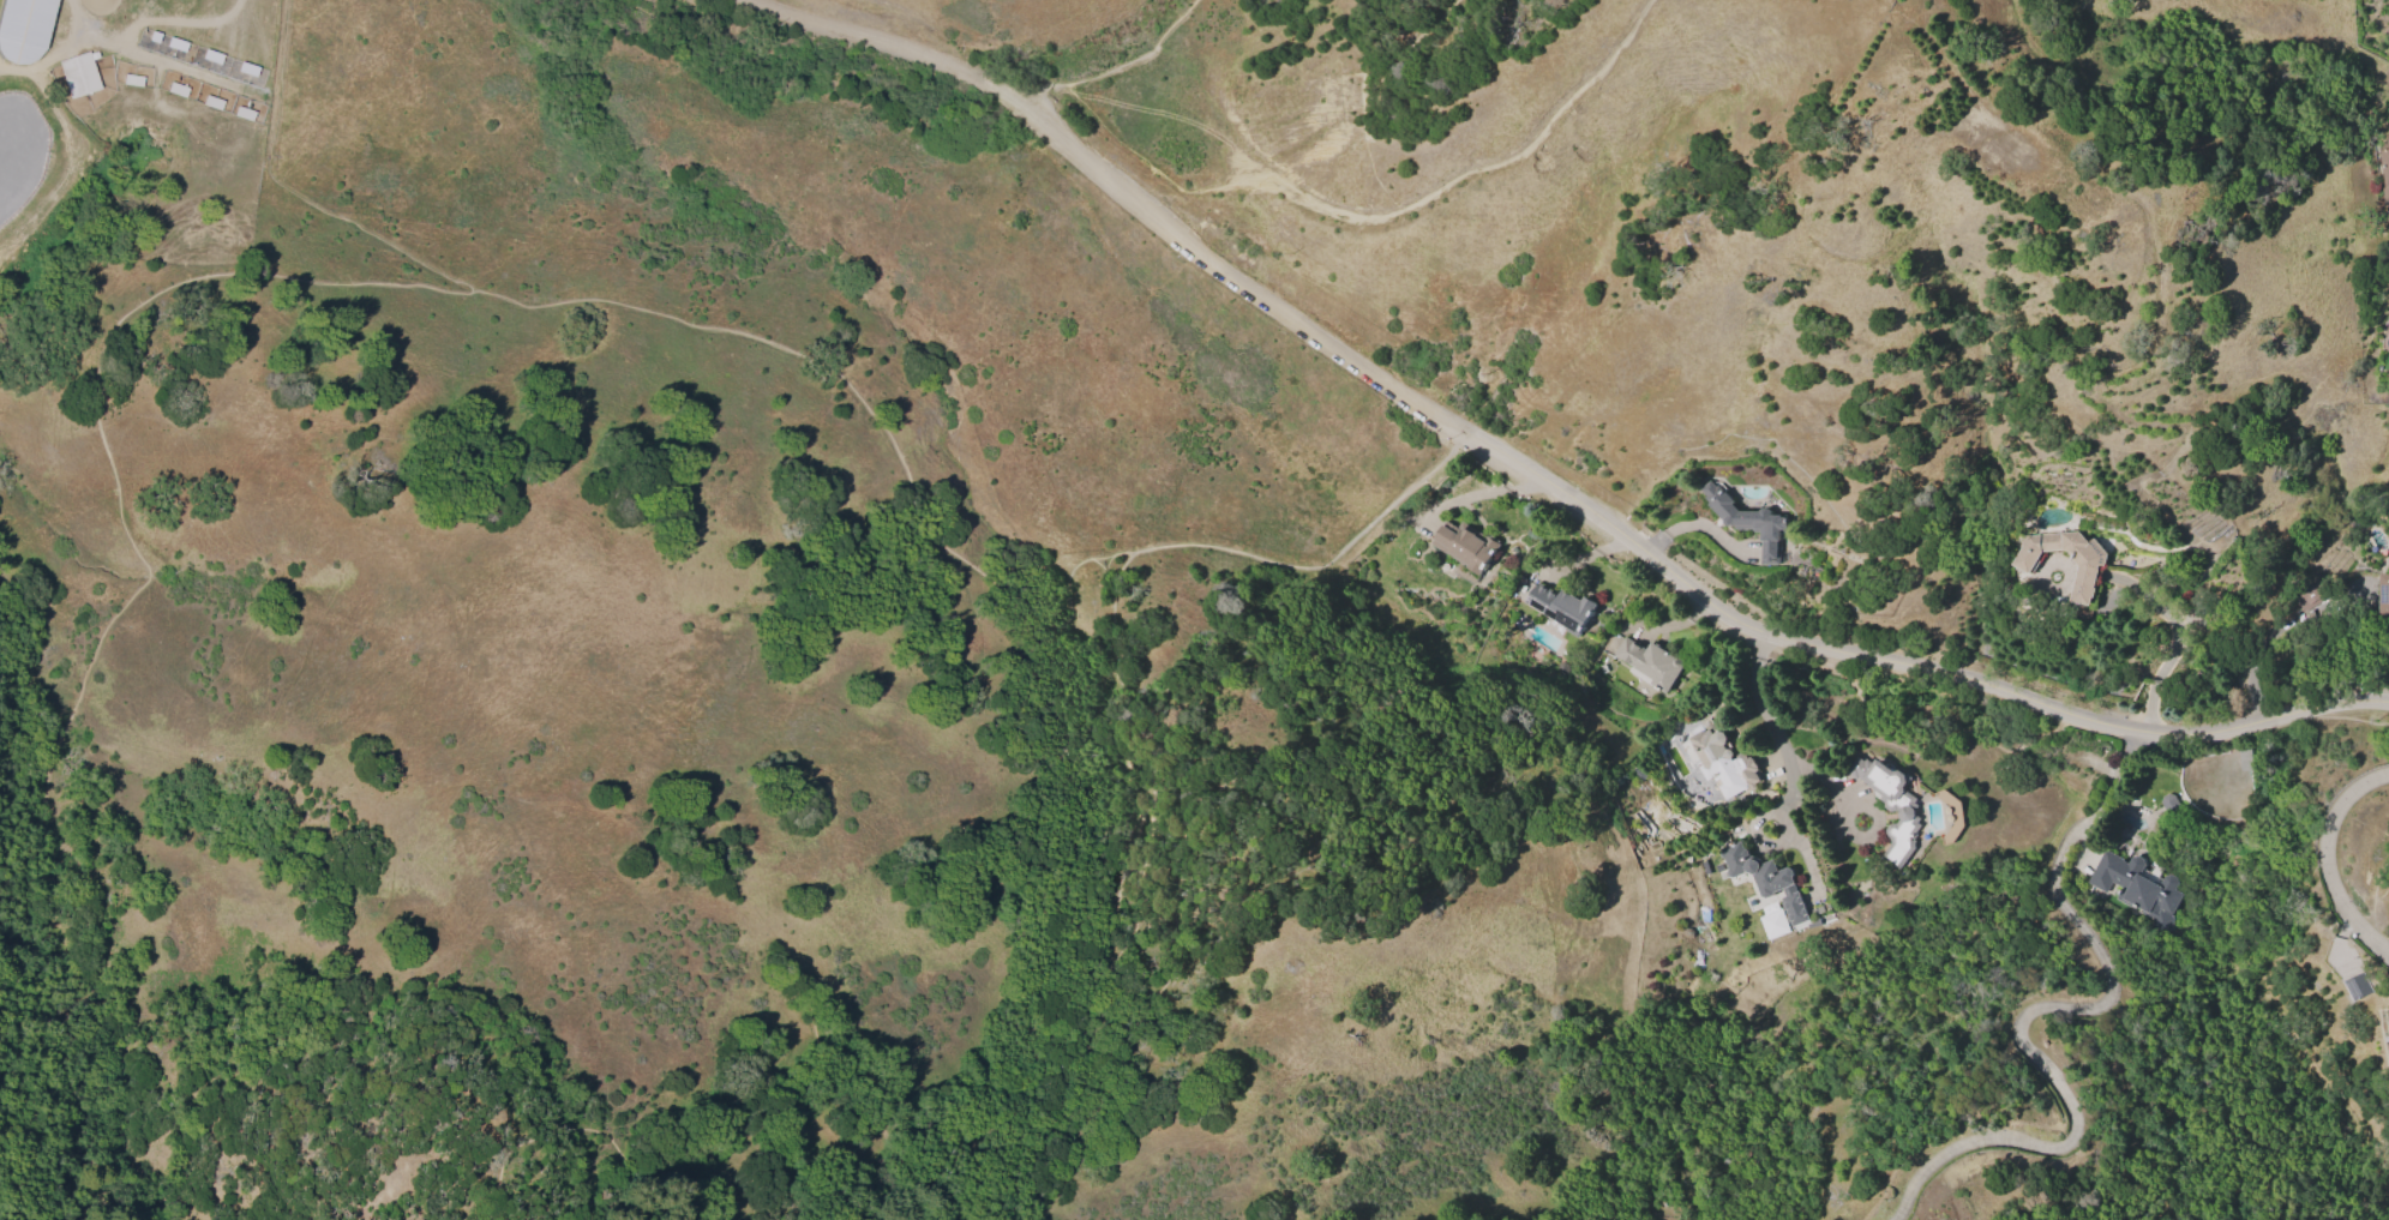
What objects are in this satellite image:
building: (23, 28)
road: (899, 47)
road: (1141, 58)
building: (78, 72)
road: (1048, 100)
road: (1376, 101)
building: (2384, 167)
road: (290, 188)
road: (1376, 210)
road: (1241, 284)
road: (397, 286)
building: (1746, 519)
building: (1465, 545)
road: (1319, 558)
building: (2087, 569)
building: (2383, 593)
building: (2310, 594)
building: (1561, 607)
road: (2183, 642)
building: (1650, 661)
road: (1901, 663)
building: (1559, 667)
road: (1926, 696)
road: (1769, 741)
building: (2244, 757)
building: (1722, 758)
building: (2168, 803)
building: (1890, 805)
road: (1197, 845)
road: (2329, 863)
road: (2078, 867)
building: (1767, 879)
building: (2136, 888)
road: (2375, 907)
building: (1771, 919)
building: (2355, 985)
road: (2042, 1009)
road: (581, 1134)

